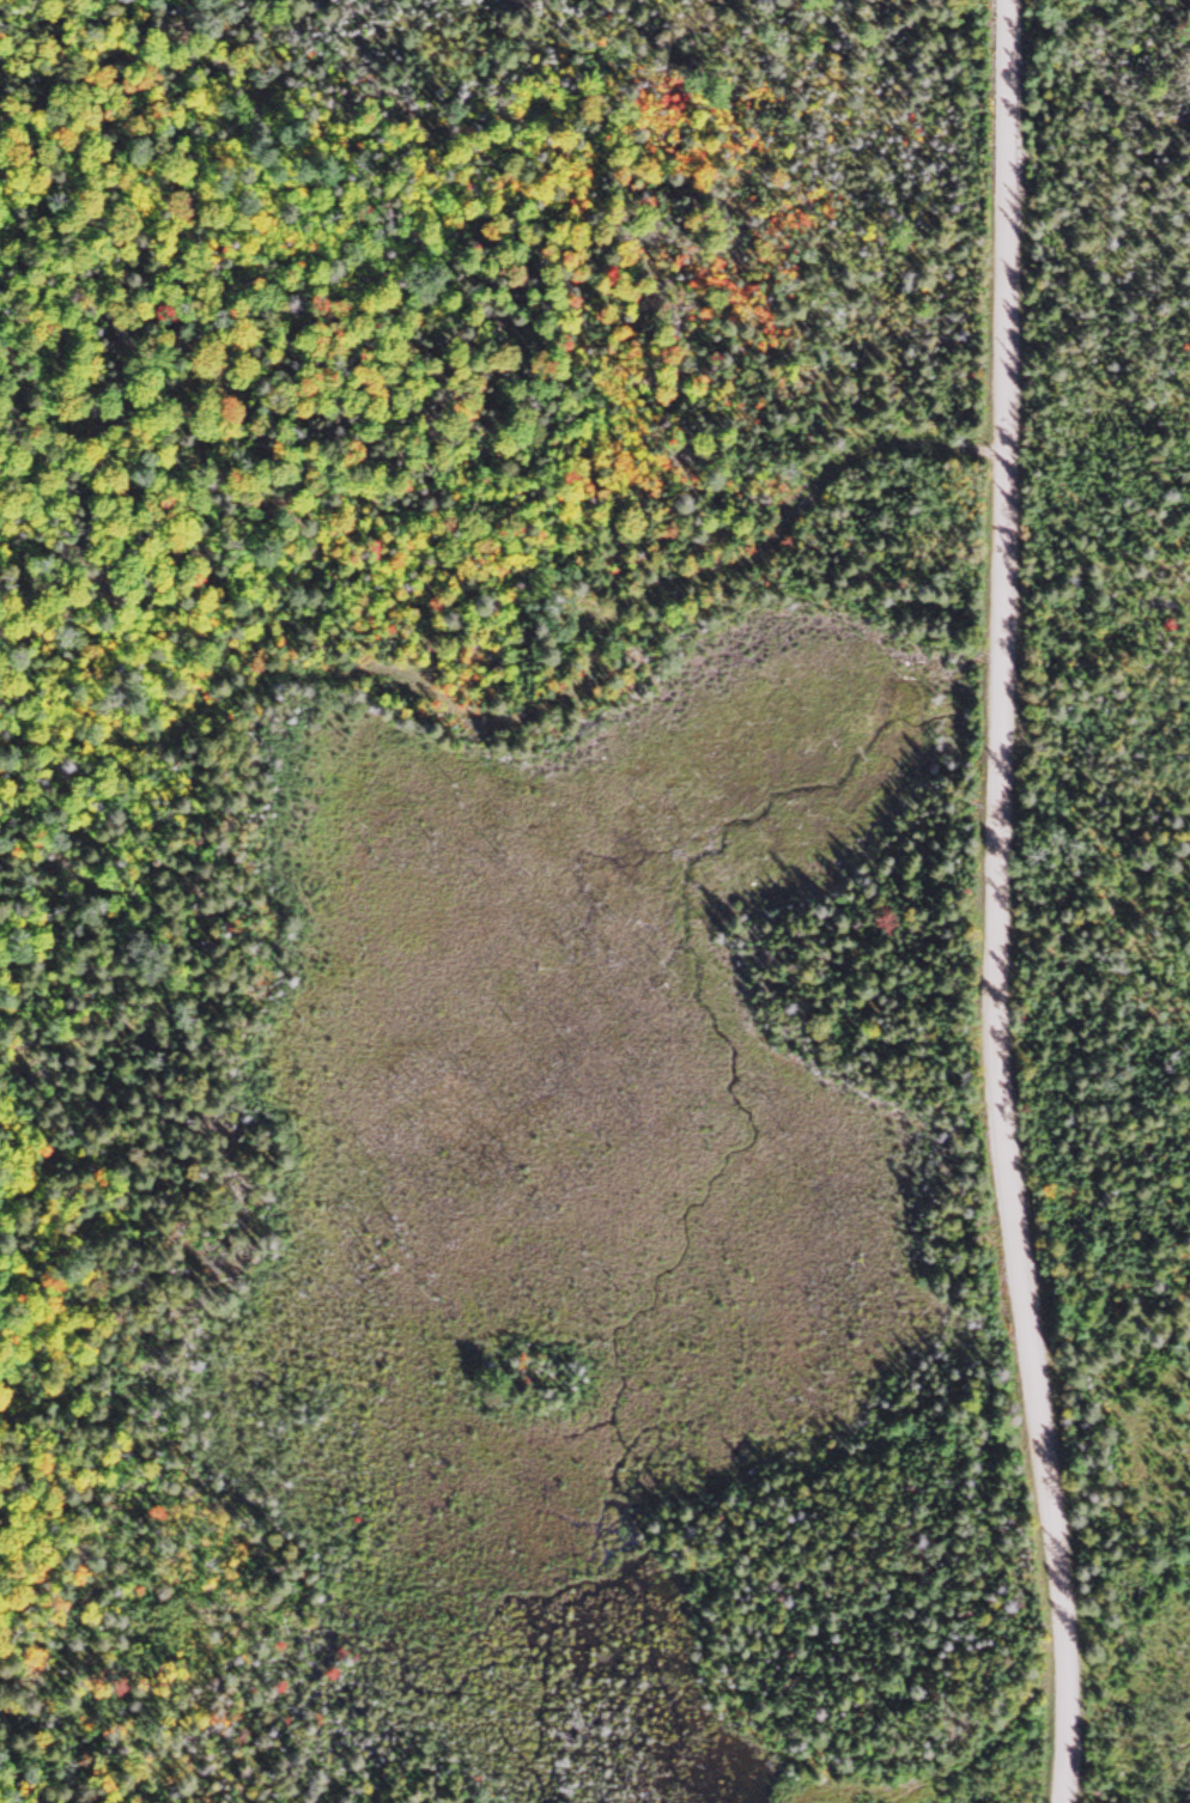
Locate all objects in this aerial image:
road: (1003, 903)

